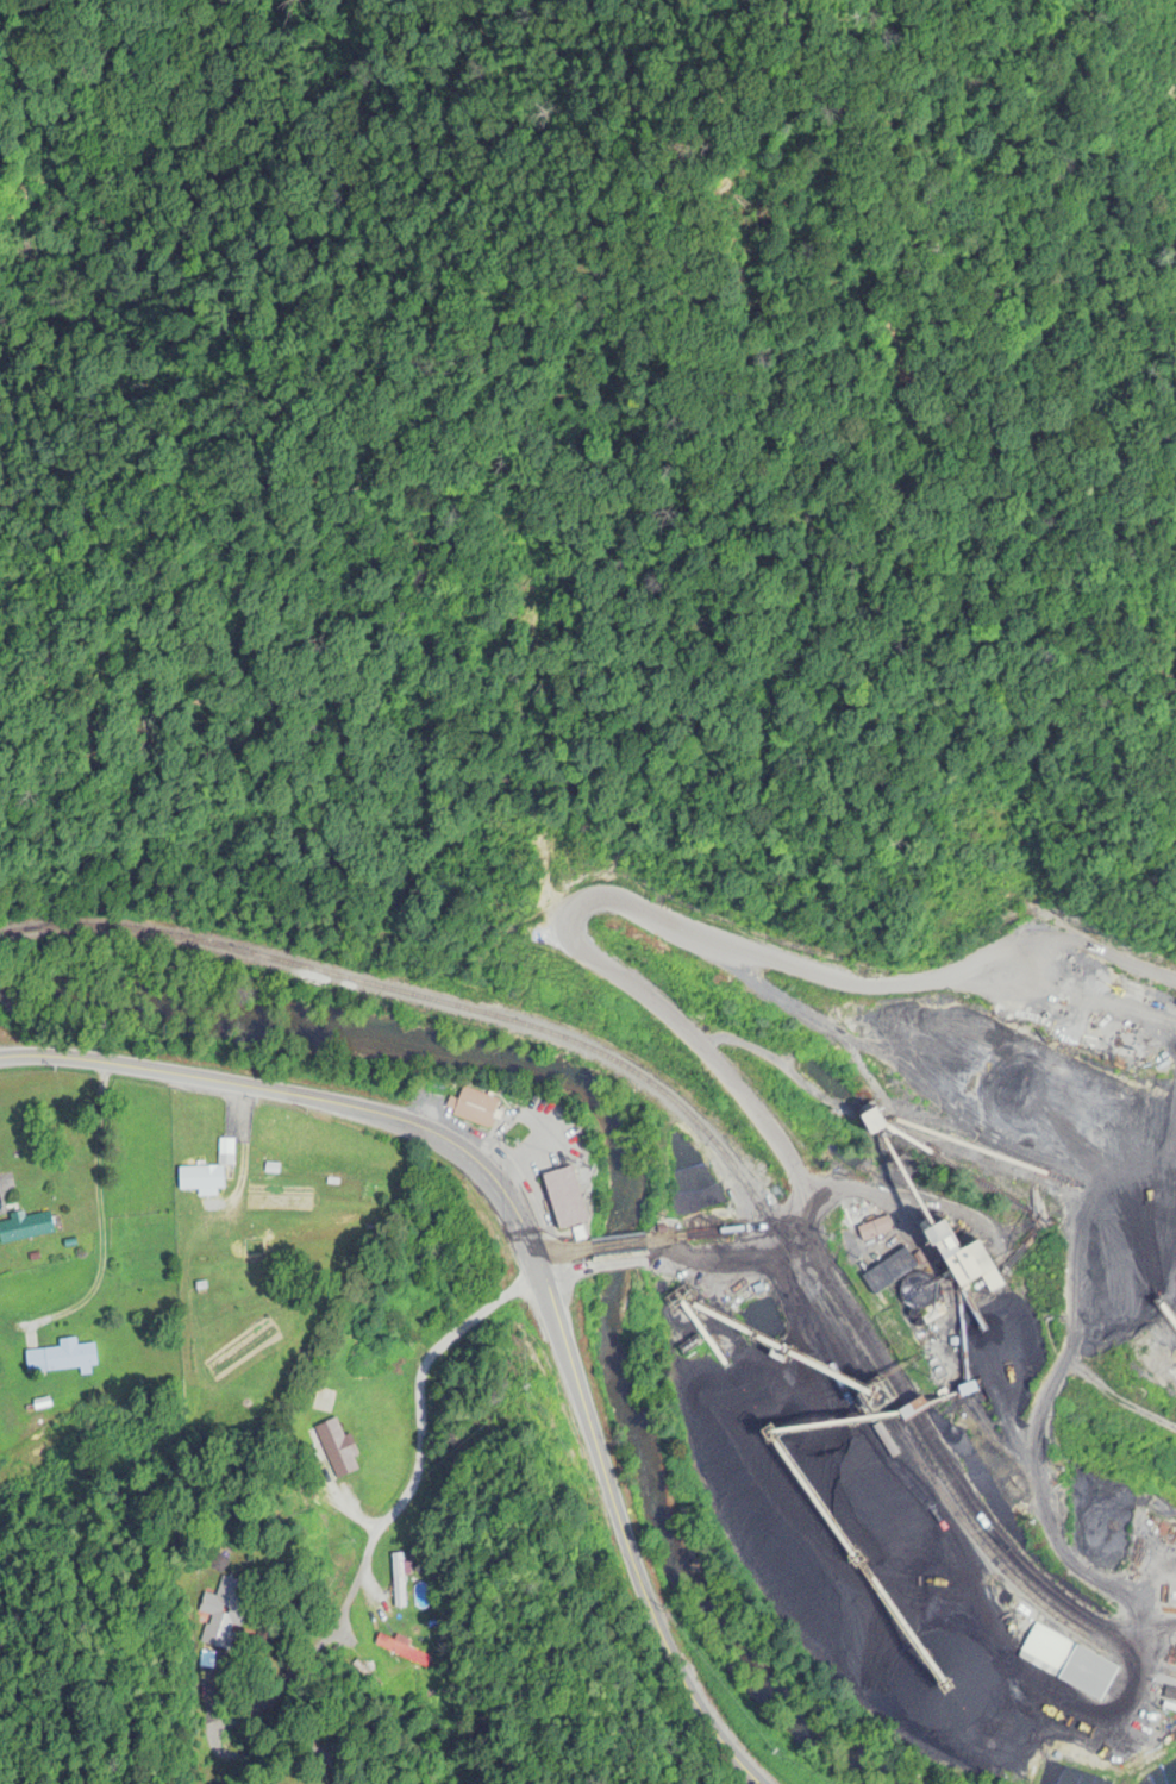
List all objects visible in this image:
quarry: (1172, 19)
road: (601, 899)
building: (473, 1108)
building: (874, 1120)
railway: (700, 1128)
river: (621, 1162)
building: (225, 1164)
building: (565, 1197)
building: (690, 1200)
road: (100, 1215)
building: (25, 1228)
building: (874, 1229)
road: (527, 1246)
building: (965, 1259)
road: (619, 1263)
road: (565, 1270)
building: (889, 1271)
quarry: (911, 1282)
building: (62, 1359)
road: (1038, 1444)
building: (337, 1450)
road: (401, 1509)
building: (398, 1582)
building: (224, 1605)
building: (1068, 1663)
road: (243, 1758)

